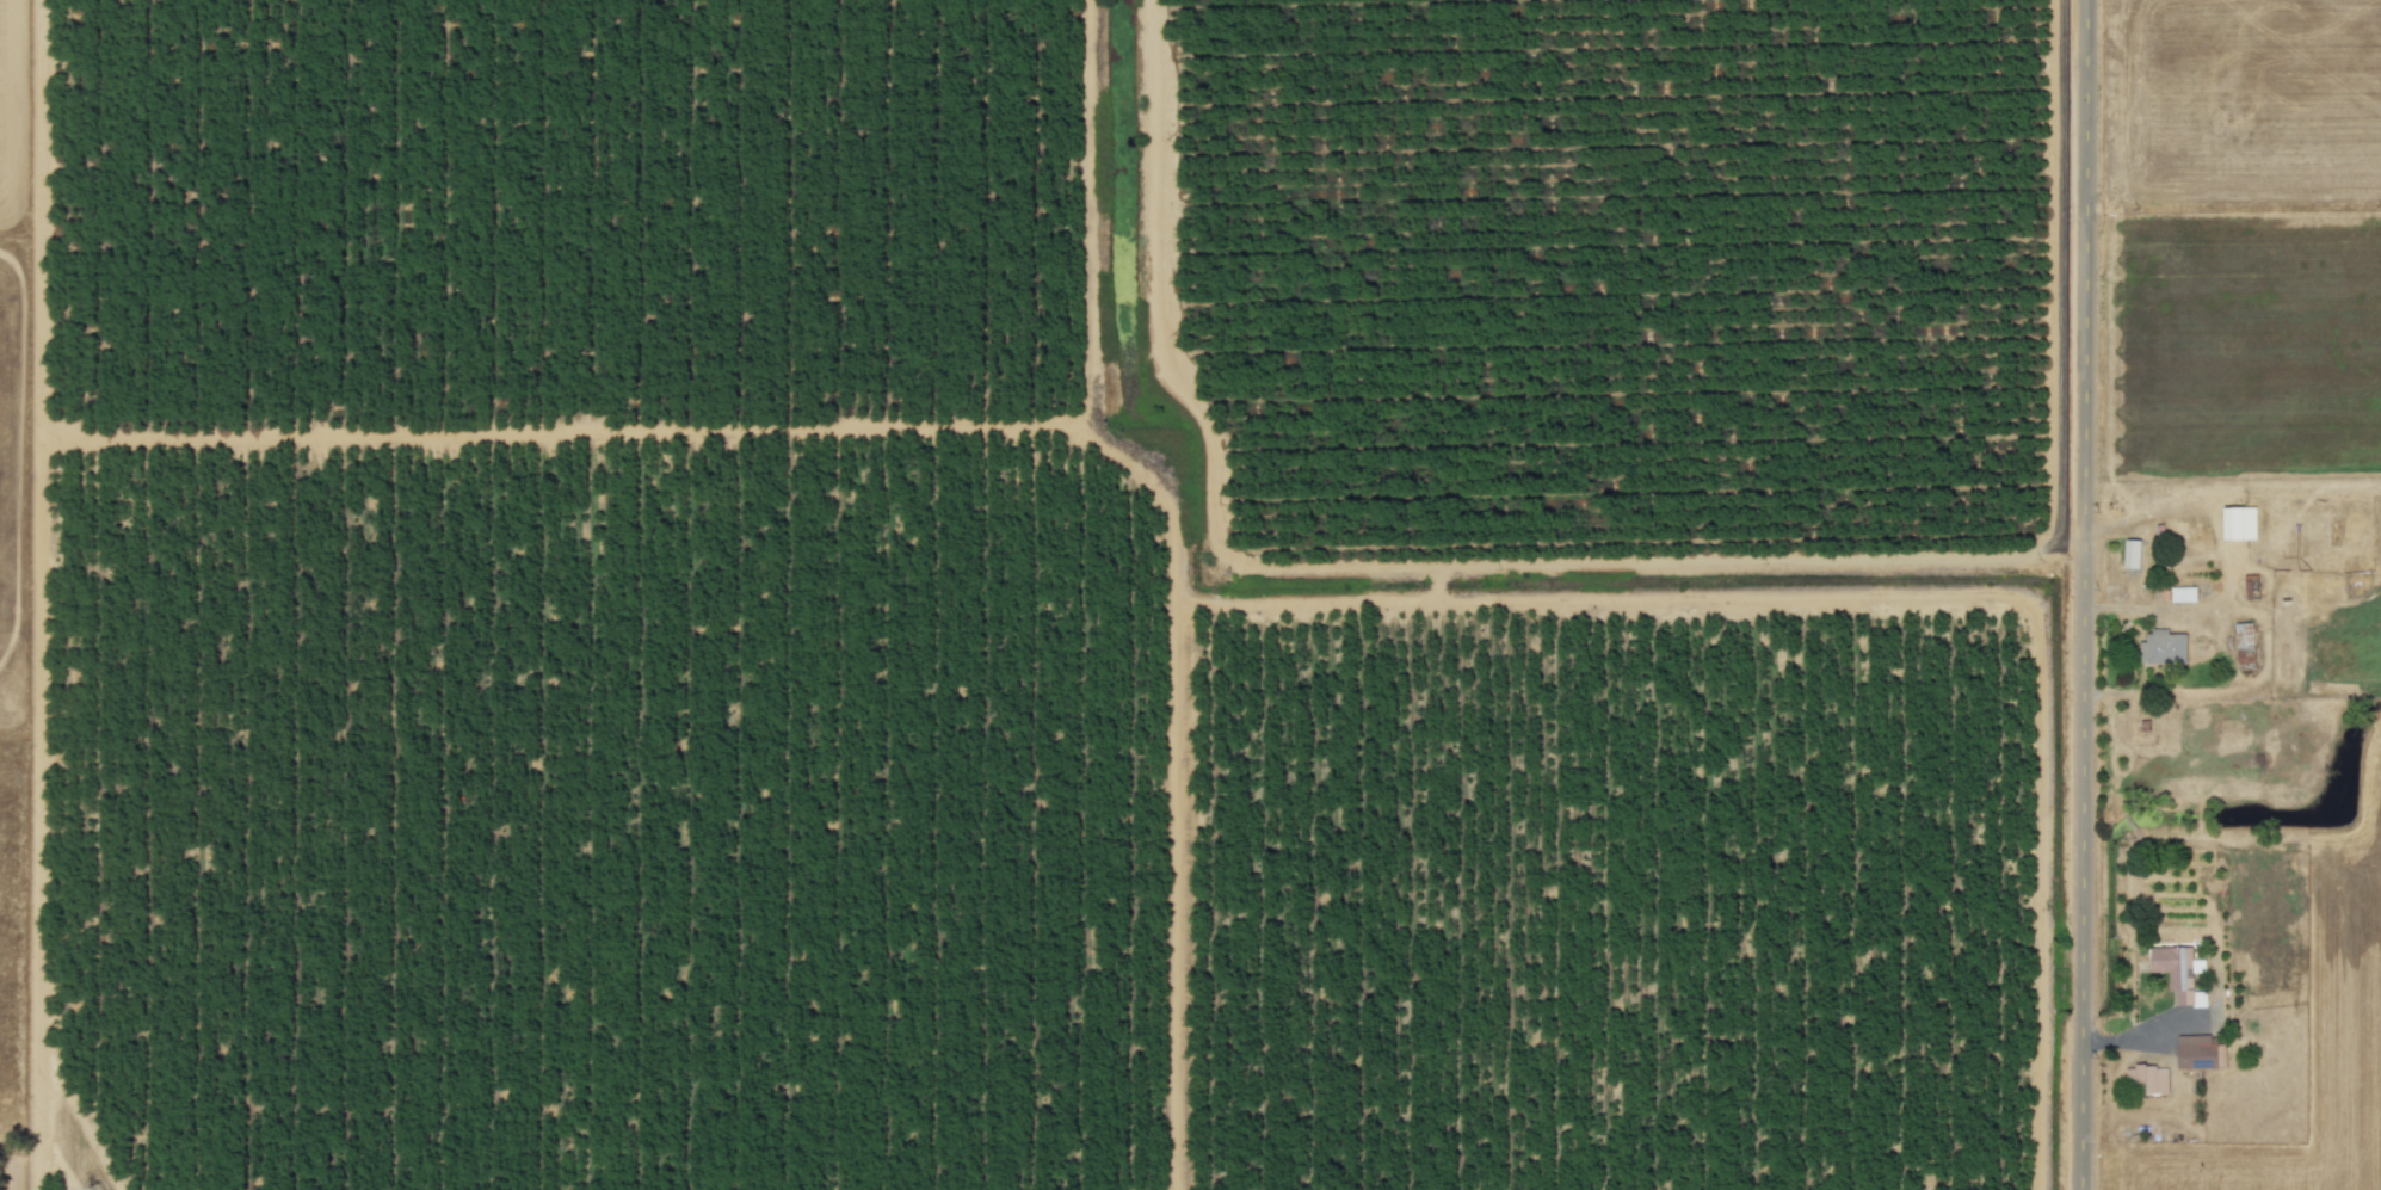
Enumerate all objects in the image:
building: (2234, 523)
building: (2133, 553)
building: (2183, 593)
road: (2089, 594)
building: (2245, 642)
building: (2164, 647)
building: (2147, 1079)
power tower: (93, 1189)

